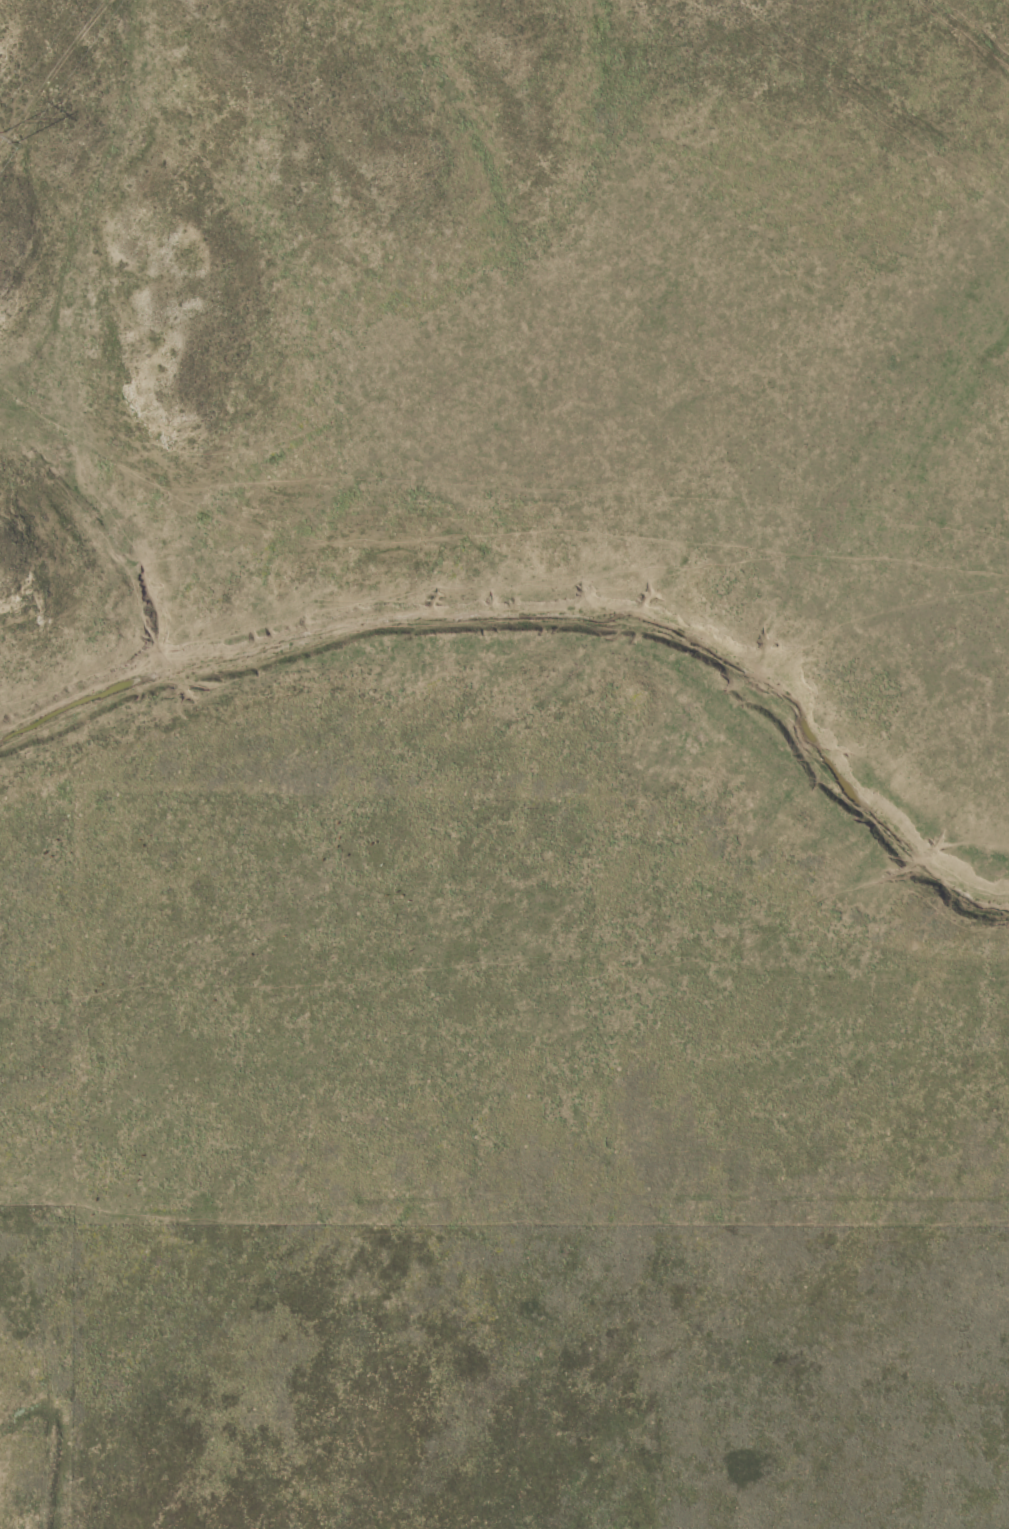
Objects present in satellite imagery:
power tower: (0, 139)

